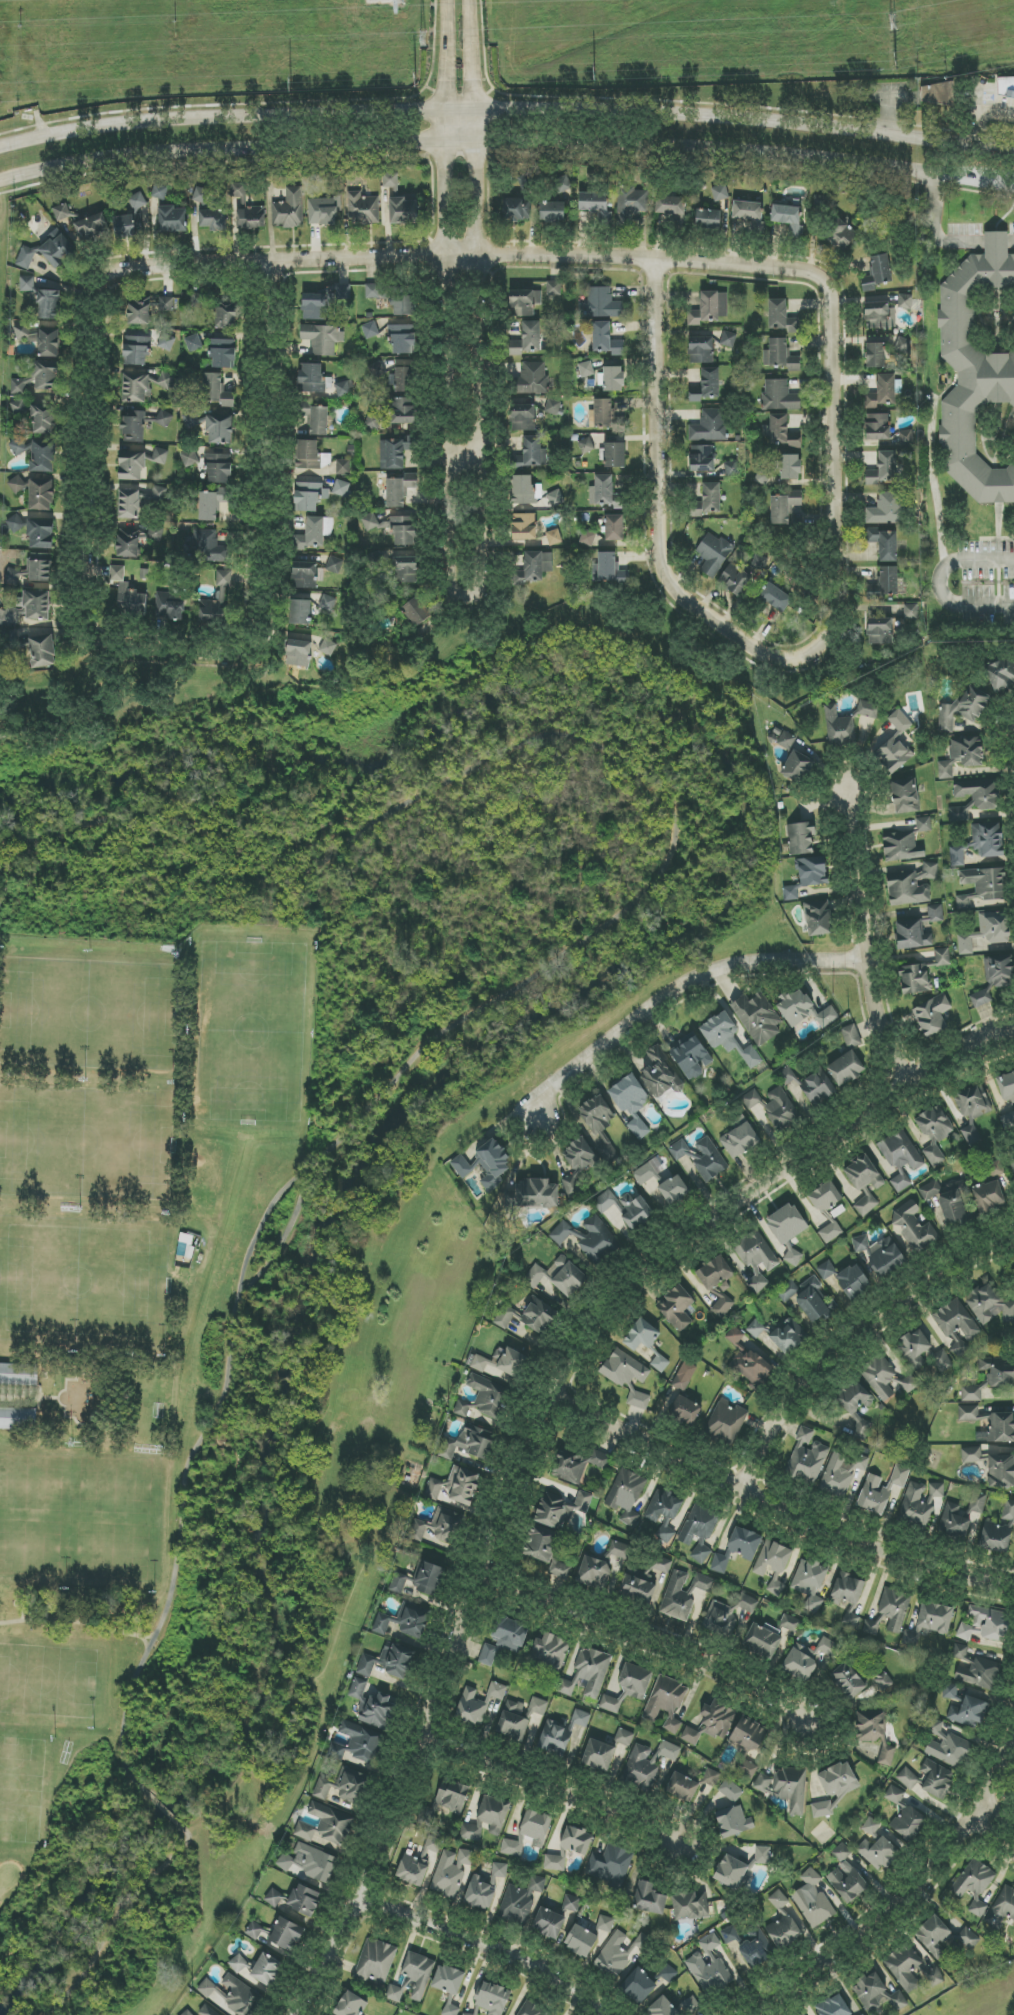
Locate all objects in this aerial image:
power tower: (896, 27)
power tower: (423, 39)
power tower: (896, 61)
power tower: (596, 72)
power tower: (416, 79)
power tower: (291, 83)
building: (1006, 90)
building: (937, 94)
road: (507, 109)
road: (886, 114)
road: (977, 114)
road: (506, 141)
building: (390, 181)
building: (160, 192)
building: (720, 193)
building: (201, 195)
building: (137, 201)
building: (821, 202)
building: (631, 203)
building: (594, 204)
building: (362, 208)
building: (672, 208)
building: (516, 209)
building: (289, 210)
building: (403, 211)
building: (747, 211)
building: (62, 212)
building: (552, 212)
building: (251, 218)
building: (788, 218)
building: (173, 219)
building: (708, 219)
building: (214, 220)
building: (128, 225)
building: (92, 228)
road: (933, 229)
building: (841, 235)
road: (996, 238)
road: (1011, 239)
building: (46, 253)
road: (458, 253)
building: (877, 273)
building: (27, 284)
building: (554, 288)
building: (377, 291)
building: (323, 302)
building: (525, 302)
building: (905, 302)
building: (166, 304)
building: (603, 304)
building: (50, 305)
building: (403, 306)
building: (709, 308)
building: (139, 311)
building: (881, 315)
building: (226, 316)
building: (781, 317)
building: (370, 329)
building: (323, 339)
building: (402, 339)
building: (527, 339)
building: (728, 339)
building: (41, 340)
building: (606, 340)
building: (167, 342)
building: (193, 343)
building: (903, 345)
building: (137, 350)
building: (701, 350)
building: (223, 354)
building: (876, 355)
building: (780, 356)
building: (377, 369)
building: (586, 369)
building: (980, 373)
building: (39, 378)
building: (533, 378)
building: (312, 379)
building: (404, 379)
building: (614, 379)
building: (169, 382)
building: (706, 386)
building: (137, 388)
building: (886, 388)
building: (344, 389)
building: (216, 391)
building: (779, 396)
building: (18, 407)
building: (553, 407)
building: (404, 411)
building: (603, 412)
building: (45, 416)
building: (524, 418)
building: (164, 419)
building: (190, 419)
building: (319, 421)
building: (373, 422)
building: (133, 426)
building: (711, 426)
building: (879, 428)
building: (220, 429)
building: (777, 430)
building: (906, 438)
building: (586, 445)
road: (464, 450)
building: (534, 452)
building: (394, 453)
building: (38, 455)
building: (615, 455)
building: (160, 456)
building: (311, 456)
building: (702, 458)
building: (190, 459)
building: (132, 466)
building: (343, 467)
building: (789, 467)
building: (219, 468)
building: (732, 468)
building: (883, 468)
building: (763, 477)
road: (934, 480)
building: (18, 485)
building: (342, 489)
building: (399, 490)
building: (524, 490)
building: (602, 491)
building: (41, 494)
building: (309, 496)
building: (556, 498)
building: (708, 500)
building: (129, 504)
building: (212, 504)
building: (784, 507)
building: (887, 509)
building: (16, 523)
building: (524, 527)
building: (395, 528)
building: (615, 528)
building: (315, 532)
building: (41, 534)
building: (554, 537)
building: (588, 538)
building: (136, 540)
building: (883, 543)
building: (208, 548)
building: (713, 554)
building: (759, 563)
building: (335, 565)
building: (536, 566)
building: (32, 570)
building: (405, 570)
building: (609, 570)
building: (307, 574)
building: (734, 580)
road: (937, 580)
building: (886, 584)
building: (127, 593)
road: (466, 595)
building: (775, 597)
building: (216, 600)
building: (328, 603)
building: (170, 606)
building: (30, 608)
building: (417, 611)
building: (911, 611)
building: (301, 612)
building: (880, 631)
road: (183, 644)
building: (328, 648)
building: (42, 651)
road: (762, 652)
building: (298, 653)
building: (1001, 674)
building: (963, 708)
building: (868, 710)
building: (899, 722)
building: (839, 728)
building: (787, 741)
building: (893, 755)
building: (962, 756)
building: (798, 767)
building: (905, 796)
building: (974, 798)
building: (924, 824)
building: (801, 839)
road: (22, 842)
building: (980, 843)
building: (902, 847)
building: (808, 876)
road: (2, 886)
building: (911, 886)
building: (983, 887)
building: (934, 913)
building: (819, 919)
building: (987, 932)
building: (913, 935)
road: (858, 936)
building: (942, 957)
road: (555, 960)
building: (999, 971)
building: (916, 978)
road: (673, 991)
building: (981, 998)
building: (804, 1009)
building: (932, 1015)
building: (757, 1018)
building: (720, 1032)
building: (851, 1036)
building: (691, 1056)
building: (751, 1057)
building: (846, 1069)
building: (660, 1074)
building: (813, 1086)
building: (1006, 1086)
building: (751, 1099)
building: (631, 1102)
building: (781, 1109)
building: (973, 1111)
building: (1008, 1121)
building: (598, 1126)
building: (934, 1132)
building: (740, 1138)
building: (700, 1157)
building: (900, 1158)
building: (1013, 1160)
building: (578, 1163)
building: (486, 1165)
building: (995, 1169)
building: (648, 1172)
building: (864, 1174)
building: (674, 1190)
building: (930, 1190)
park: (280, 1193)
building: (533, 1195)
building: (991, 1196)
building: (605, 1201)
building: (866, 1205)
building: (954, 1206)
building: (825, 1208)
building: (634, 1211)
building: (915, 1227)
building: (787, 1230)
road: (260, 1232)
building: (564, 1233)
building: (596, 1241)
building: (881, 1255)
building: (755, 1259)
building: (826, 1270)
building: (716, 1274)
building: (559, 1276)
building: (853, 1281)
building: (814, 1301)
building: (989, 1304)
building: (676, 1307)
building: (722, 1307)
building: (528, 1316)
building: (957, 1320)
road: (843, 1326)
building: (755, 1328)
building: (641, 1335)
building: (788, 1336)
building: (959, 1347)
building: (923, 1350)
building: (747, 1360)
building: (502, 1363)
building: (624, 1369)
building: (998, 1371)
building: (19, 1374)
building: (684, 1376)
building: (888, 1379)
building: (971, 1393)
building: (485, 1398)
building: (638, 1400)
building: (856, 1405)
building: (686, 1410)
building: (968, 1413)
building: (18, 1419)
building: (727, 1420)
road: (538, 1424)
building: (1001, 1427)
building: (468, 1444)
building: (971, 1455)
building: (807, 1459)
building: (579, 1465)
building: (1001, 1471)
building: (842, 1474)
building: (455, 1487)
building: (881, 1490)
building: (626, 1495)
building: (977, 1502)
building: (918, 1505)
road: (774, 1507)
building: (561, 1509)
building: (664, 1512)
building: (955, 1522)
building: (439, 1527)
building: (1000, 1531)
building: (699, 1532)
building: (738, 1549)
building: (619, 1550)
building: (549, 1551)
building: (772, 1558)
building: (661, 1565)
building: (594, 1571)
building: (429, 1579)
building: (398, 1583)
building: (703, 1583)
building: (810, 1583)
building: (638, 1585)
building: (848, 1590)
building: (678, 1595)
building: (895, 1607)
building: (728, 1614)
building: (852, 1619)
road: (76, 1621)
building: (403, 1622)
building: (929, 1623)
building: (790, 1624)
building: (986, 1625)
building: (872, 1627)
building: (505, 1639)
building: (764, 1639)
road: (649, 1642)
building: (551, 1651)
building: (808, 1658)
building: (387, 1662)
building: (974, 1670)
building: (588, 1672)
building: (848, 1680)
building: (883, 1682)
building: (629, 1687)
building: (666, 1702)
building: (478, 1703)
building: (371, 1706)
building: (537, 1707)
building: (968, 1712)
building: (513, 1721)
building: (712, 1723)
building: (561, 1733)
building: (875, 1733)
building: (624, 1737)
building: (363, 1743)
building: (747, 1744)
building: (947, 1746)
building: (669, 1750)
building: (599, 1755)
building: (644, 1766)
building: (711, 1778)
building: (929, 1779)
building: (839, 1780)
building: (344, 1787)
road: (554, 1787)
building: (682, 1787)
building: (785, 1787)
building: (731, 1791)
building: (894, 1795)
building: (446, 1802)
building: (822, 1809)
road: (164, 1813)
building: (488, 1819)
building: (734, 1821)
building: (908, 1821)
road: (990, 1824)
building: (326, 1826)
building: (536, 1827)
building: (577, 1840)
building: (512, 1846)
building: (879, 1853)
building: (763, 1855)
building: (309, 1862)
building: (418, 1862)
building: (554, 1863)
building: (610, 1866)
building: (499, 1871)
building: (731, 1872)
building: (451, 1873)
building: (846, 1876)
building: (975, 1884)
road: (902, 1888)
building: (481, 1892)
building: (273, 1897)
building: (649, 1898)
road: (126, 1899)
building: (304, 1900)
building: (520, 1900)
building: (778, 1900)
building: (813, 1900)
building: (571, 1903)
building: (687, 1906)
building: (1001, 1909)
building: (549, 1923)
building: (605, 1924)
building: (257, 1931)
building: (784, 1932)
building: (731, 1935)
building: (286, 1936)
building: (943, 1936)
building: (581, 1941)
building: (710, 1944)
road: (483, 1947)
building: (620, 1952)
building: (755, 1952)
building: (376, 1961)
building: (905, 1966)
building: (260, 1968)
building: (667, 1973)
building: (709, 1973)
building: (418, 1974)
building: (448, 1980)
building: (639, 1986)
building: (876, 1991)
building: (396, 1994)
building: (233, 1996)
park: (976, 1997)
building: (493, 1998)
building: (351, 2005)
building: (691, 2005)
building: (833, 2006)
building: (662, 2008)
building: (532, 2009)
building: (206, 2011)
building: (187, 2013)
building: (467, 2014)
building: (861, 2014)

